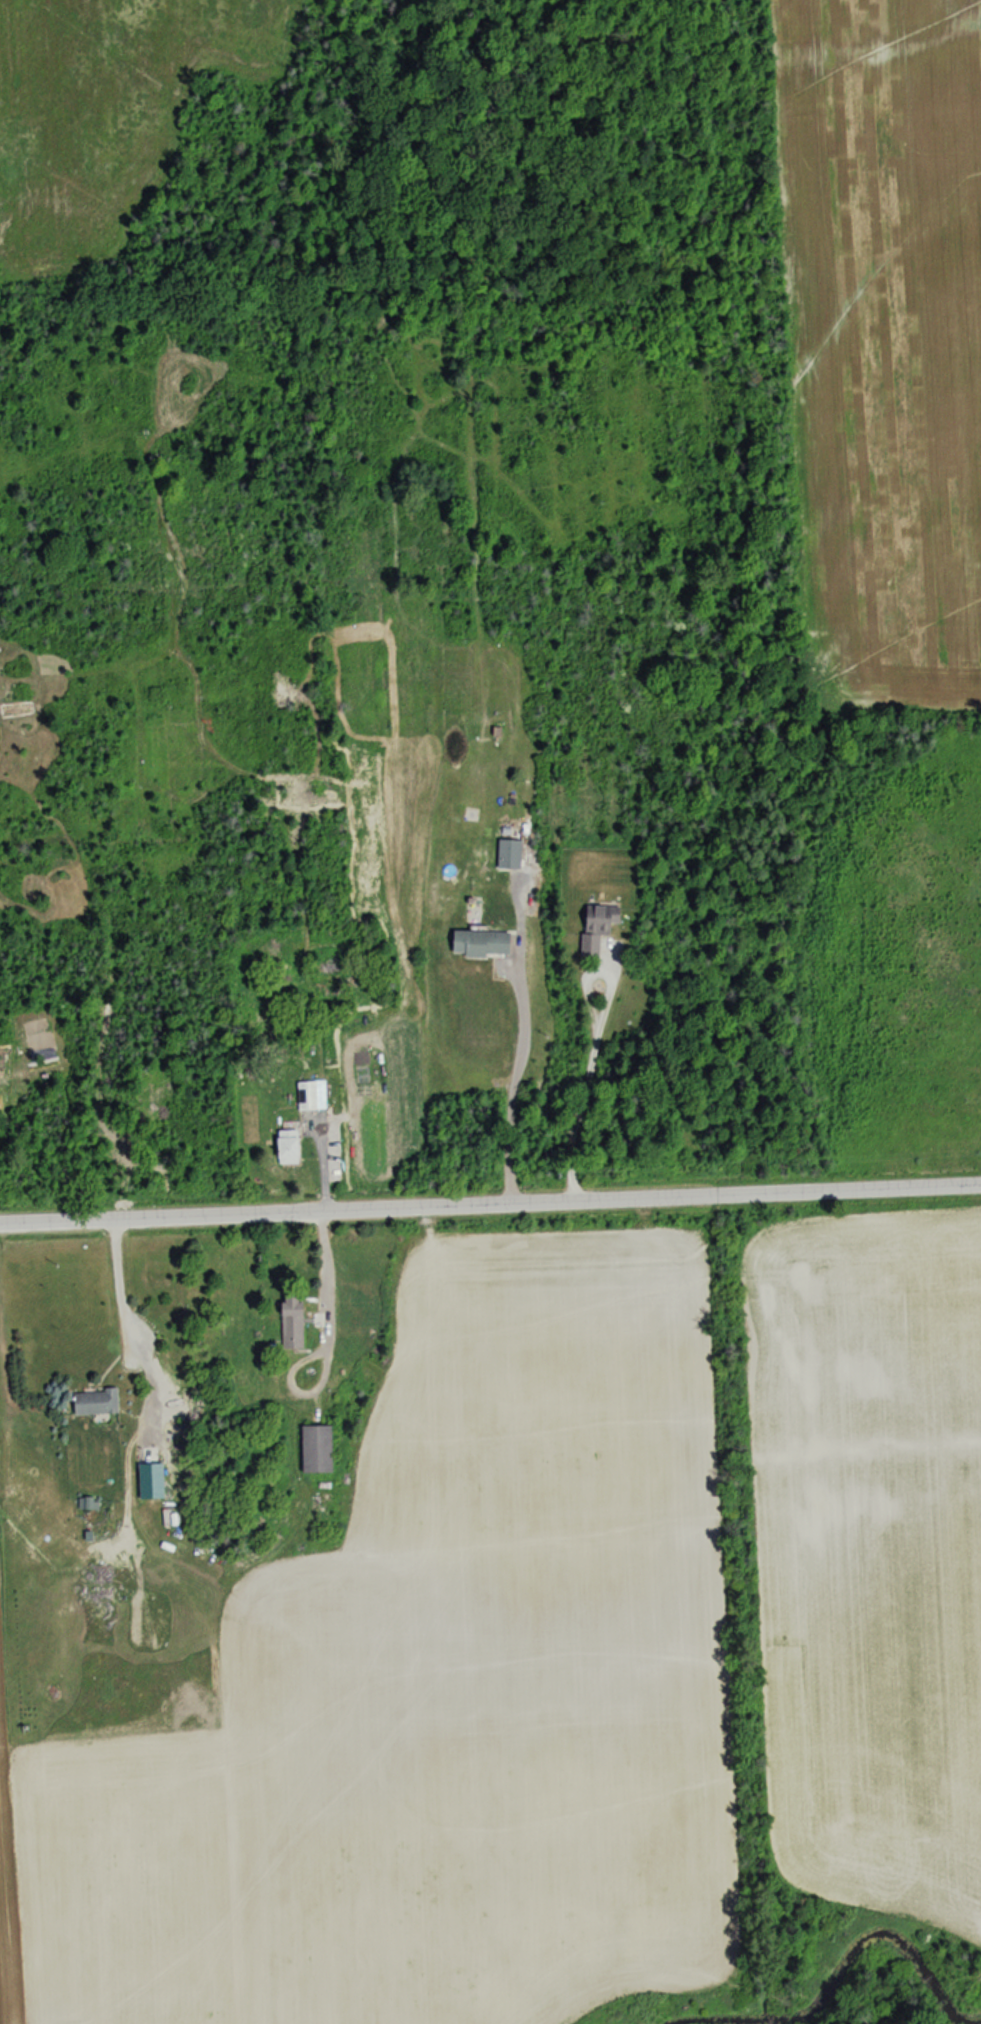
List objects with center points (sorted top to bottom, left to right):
building: (507, 853)
building: (594, 926)
building: (476, 943)
building: (331, 977)
road: (587, 1054)
road: (508, 1081)
building: (304, 1096)
building: (284, 1147)
road: (490, 1204)
road: (113, 1279)
building: (287, 1322)
road: (316, 1341)
building: (91, 1402)
building: (313, 1450)
river: (854, 1961)
river: (677, 2020)

